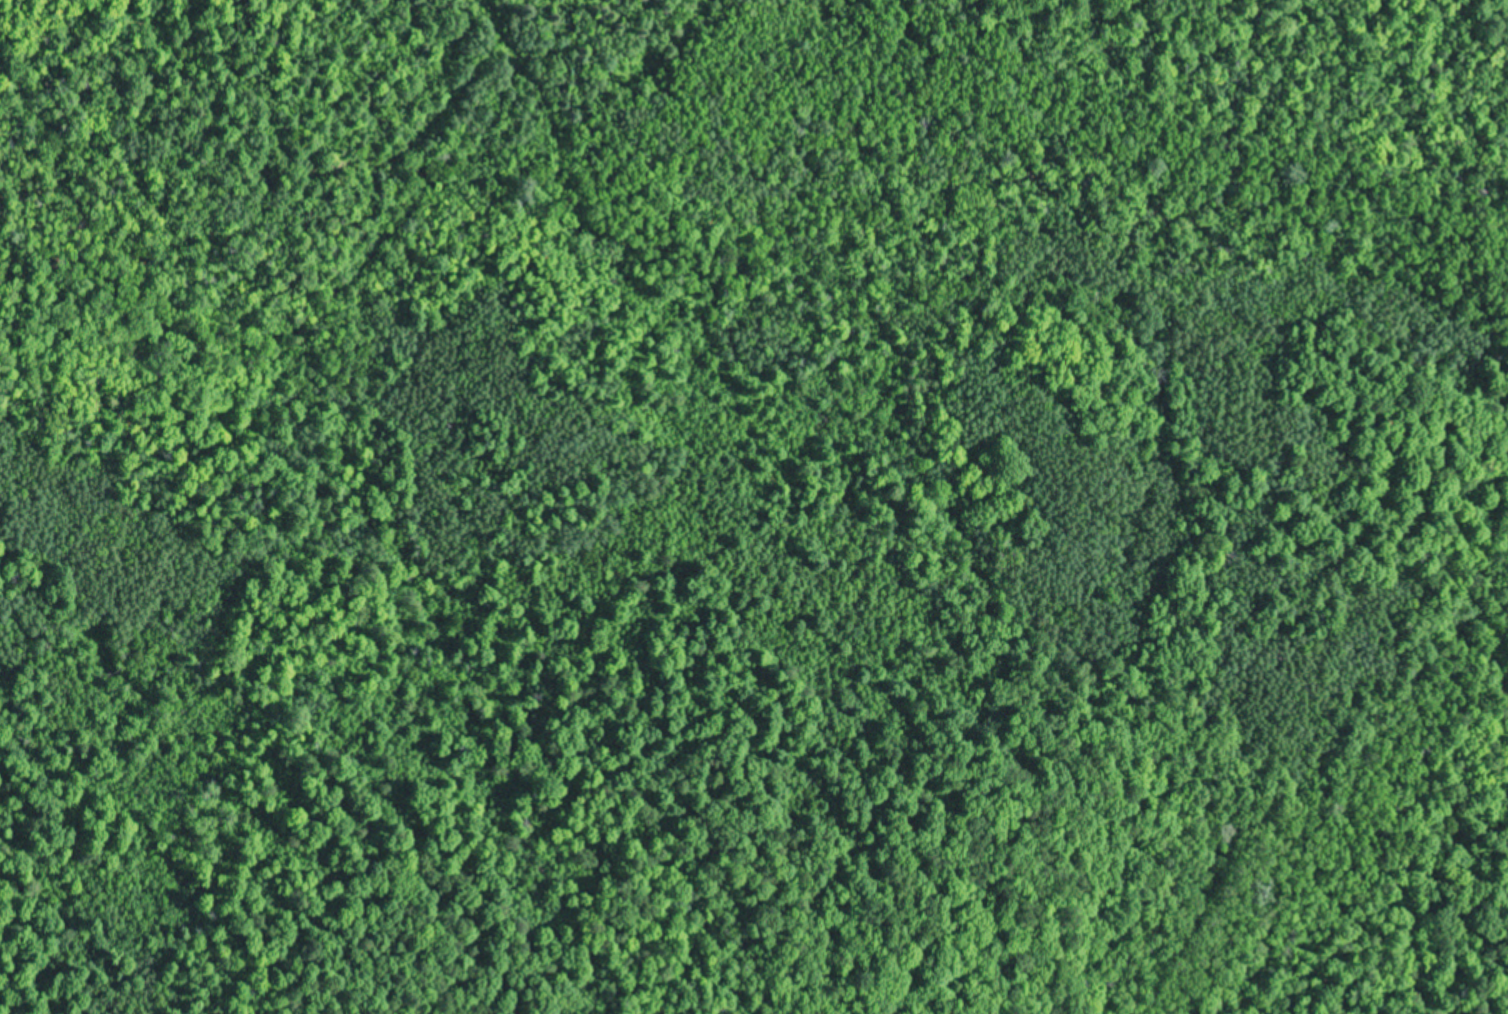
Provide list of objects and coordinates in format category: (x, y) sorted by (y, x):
quarry: (1494, 102)

